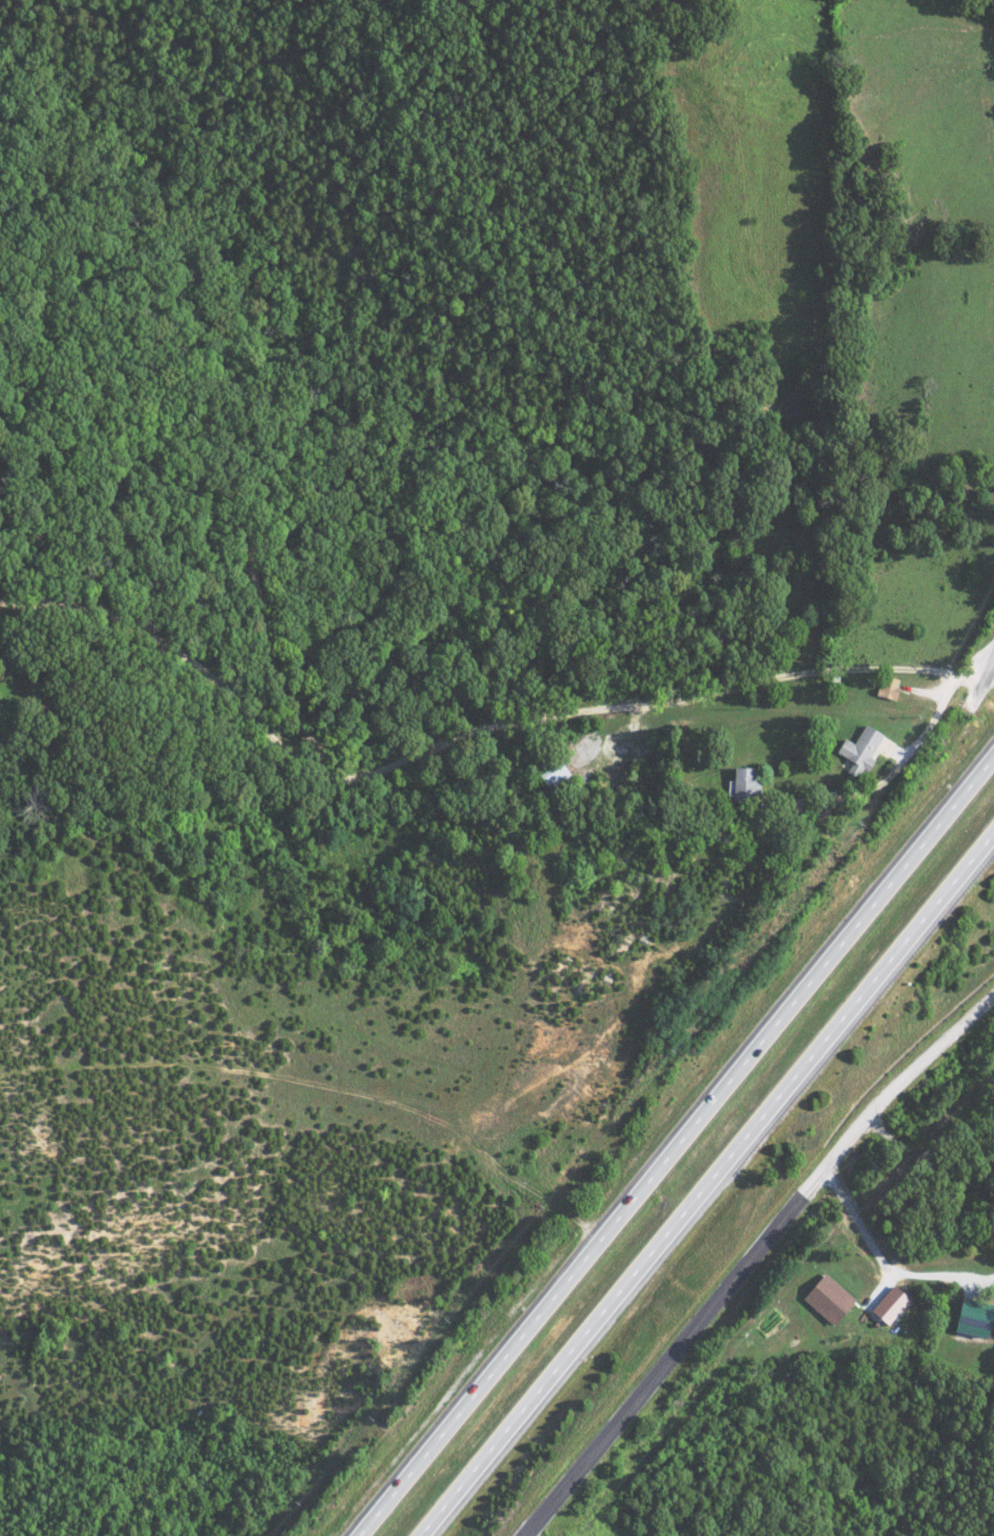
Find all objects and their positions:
road: (984, 653)
road: (784, 667)
building: (885, 687)
road: (941, 703)
building: (857, 748)
building: (739, 780)
road: (677, 1147)
road: (705, 1181)
road: (751, 1258)
road: (884, 1265)
building: (824, 1298)
building: (886, 1304)
building: (968, 1319)
road: (813, 1463)

